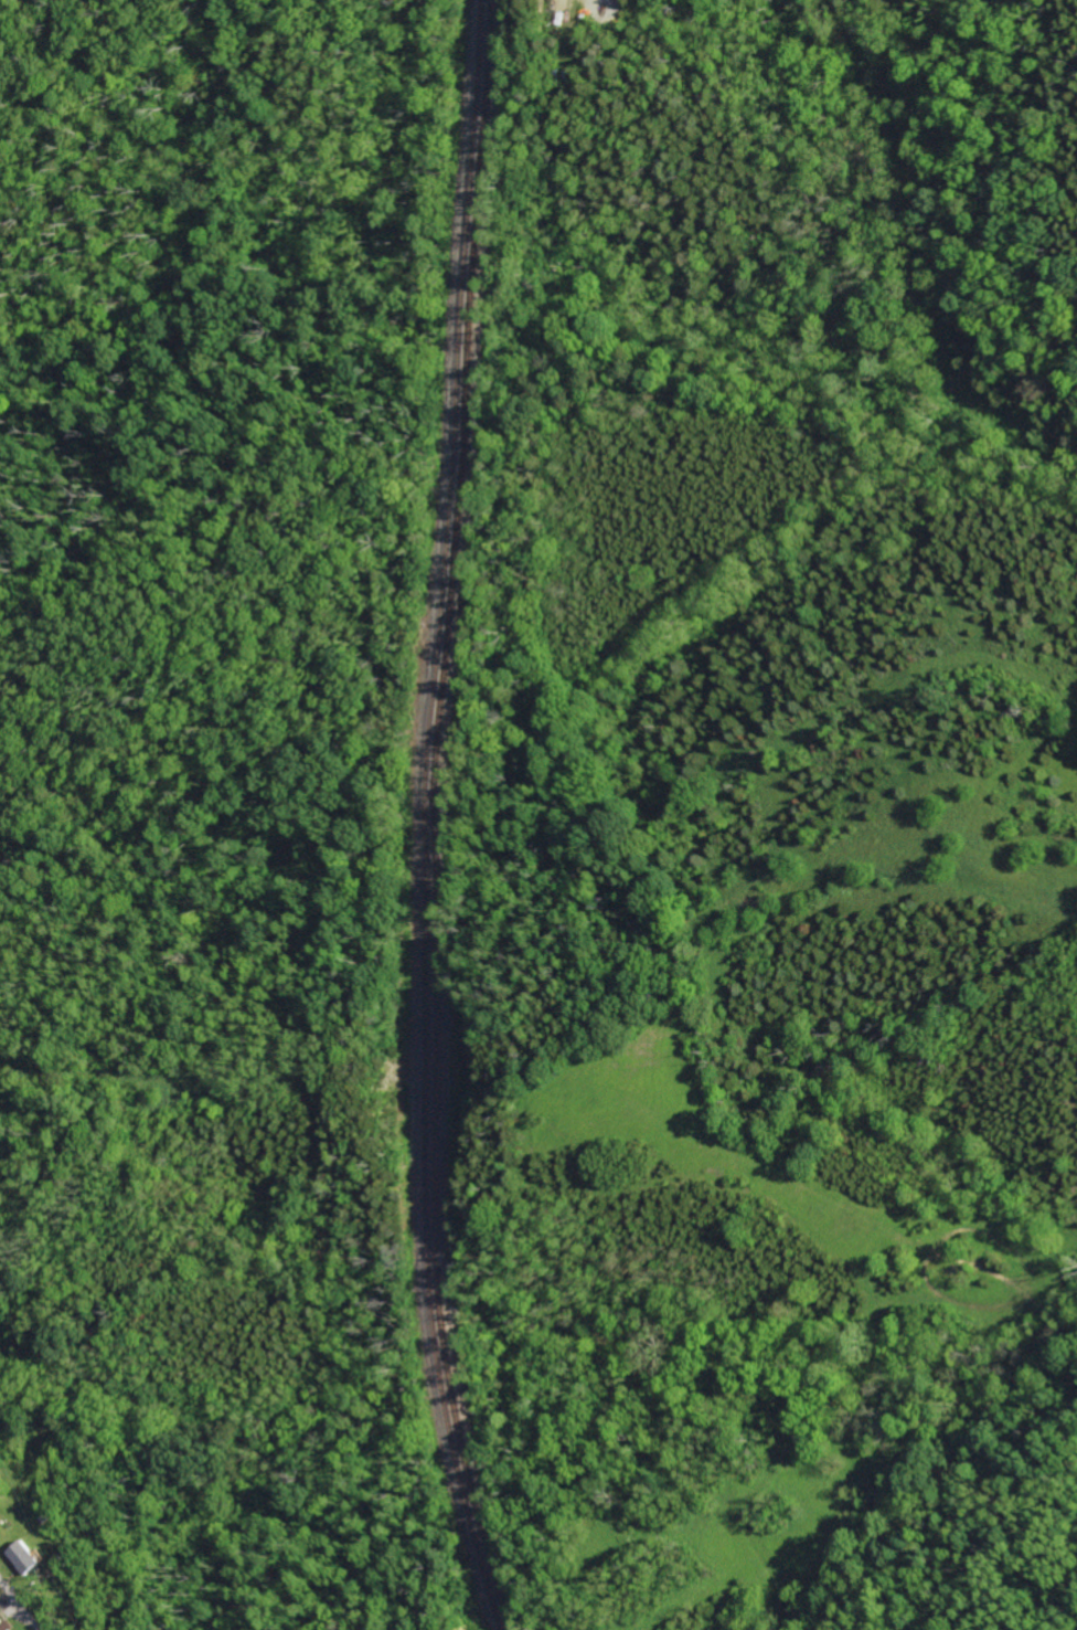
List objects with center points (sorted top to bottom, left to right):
railway: (428, 817)
railway: (439, 817)
building: (33, 1556)
building: (1, 1589)
road: (23, 1600)
building: (7, 1623)

